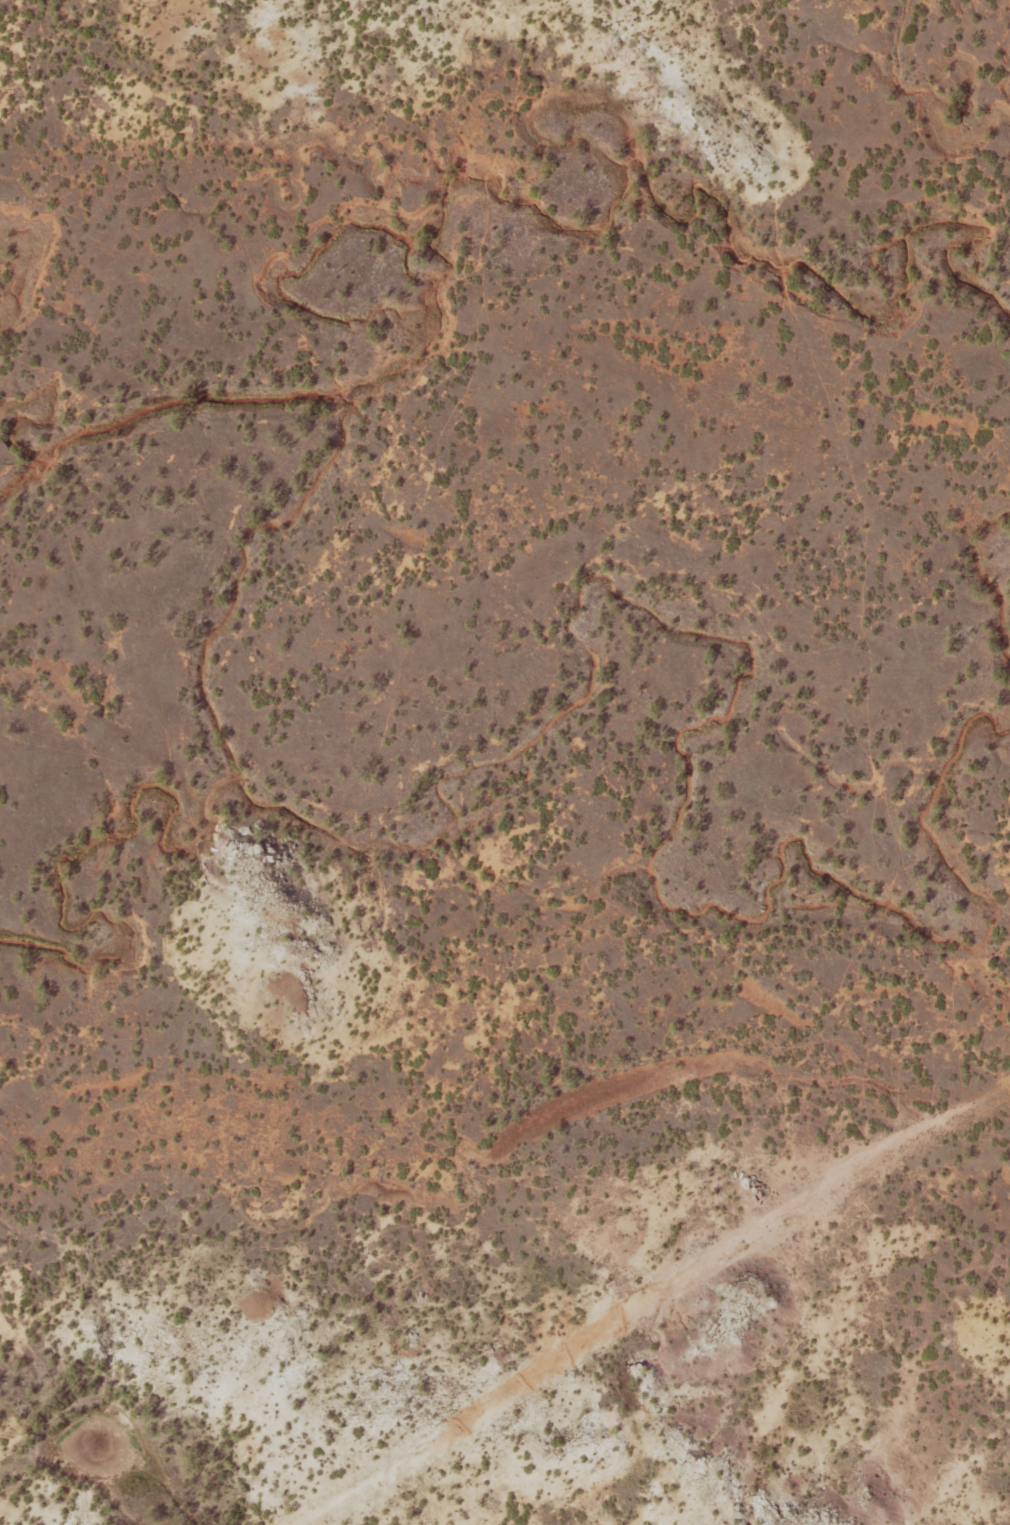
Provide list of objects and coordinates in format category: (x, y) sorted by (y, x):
road: (650, 1310)

